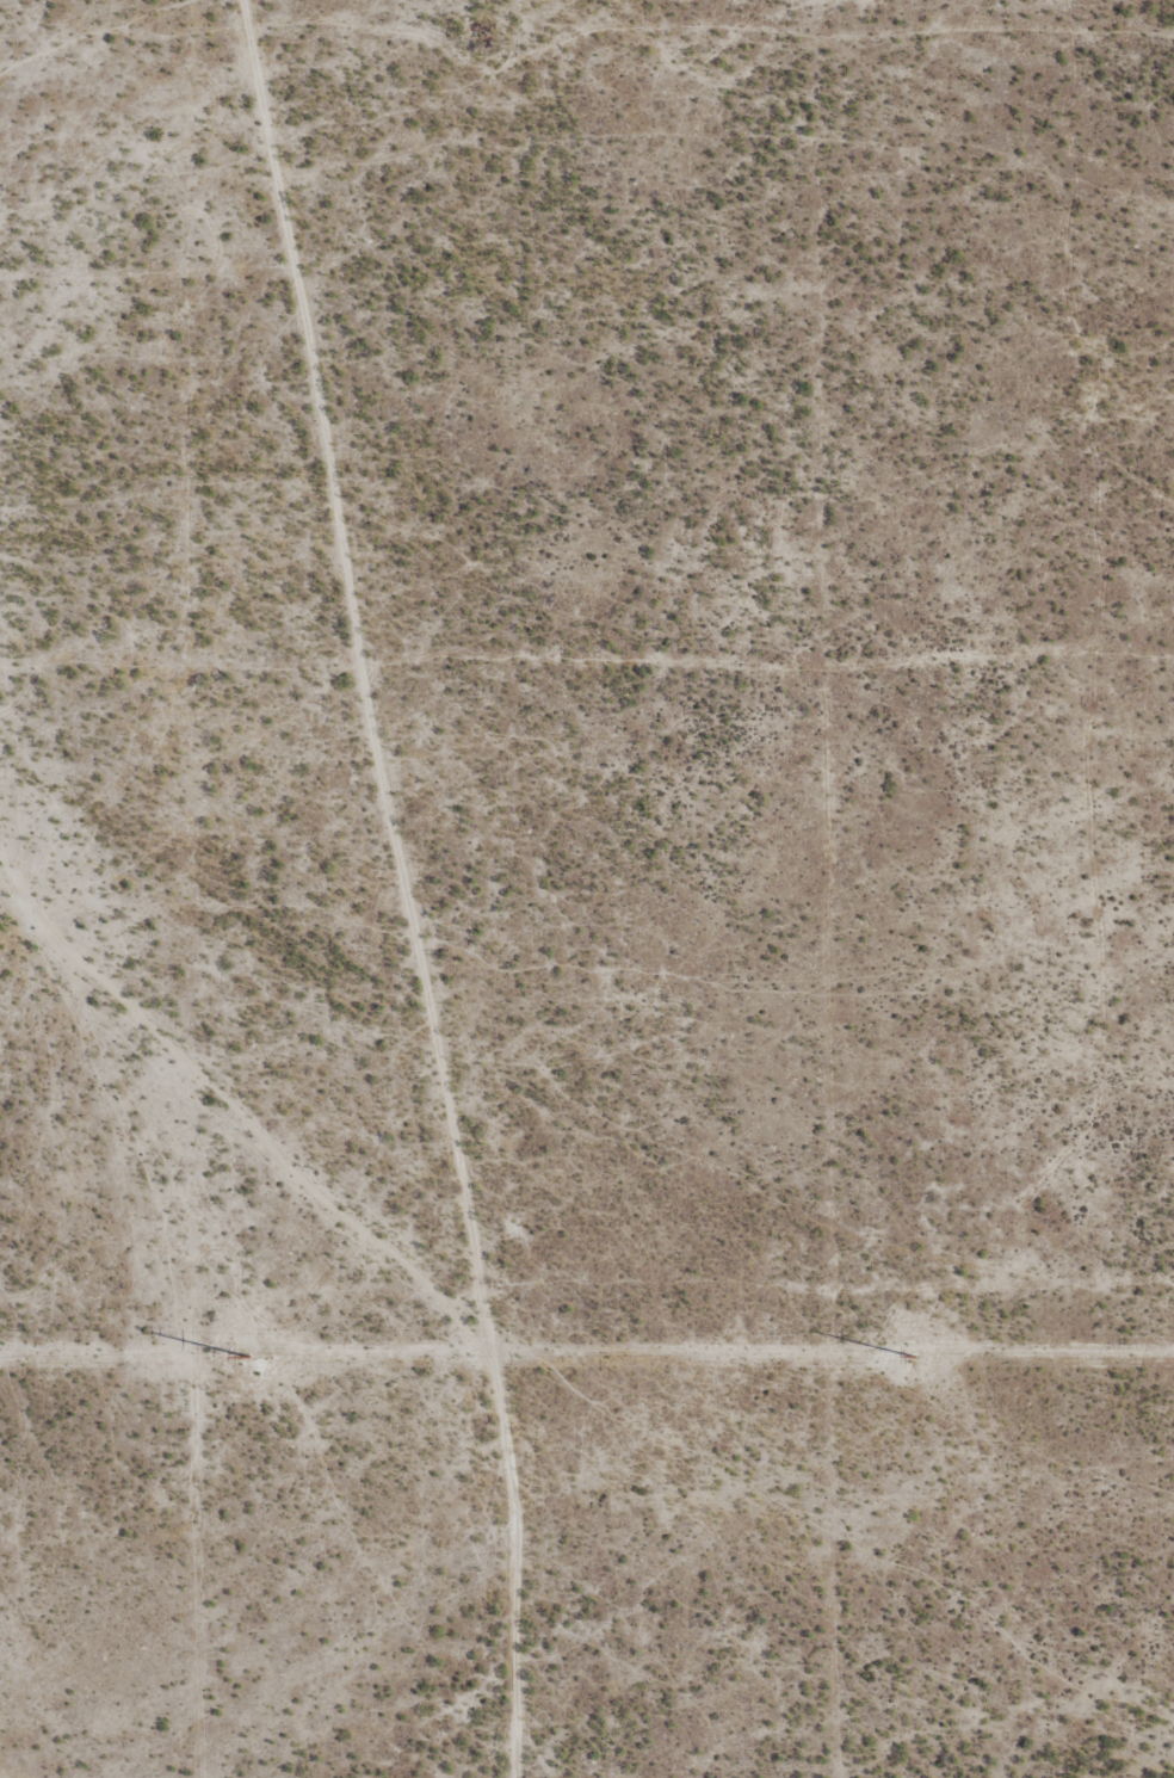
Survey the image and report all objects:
road: (455, 879)
road: (249, 1091)

